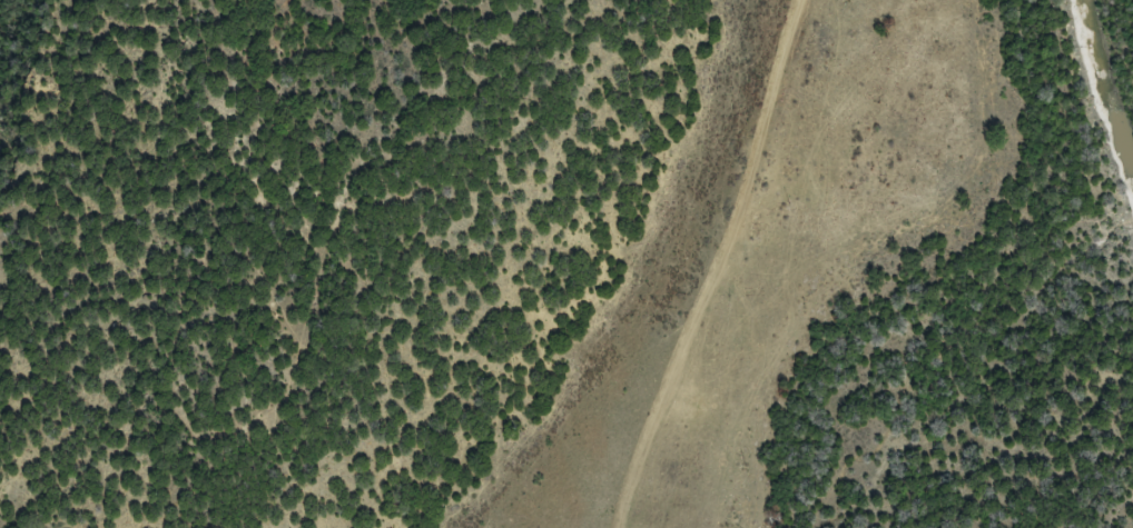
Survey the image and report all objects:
road: (768, 259)

